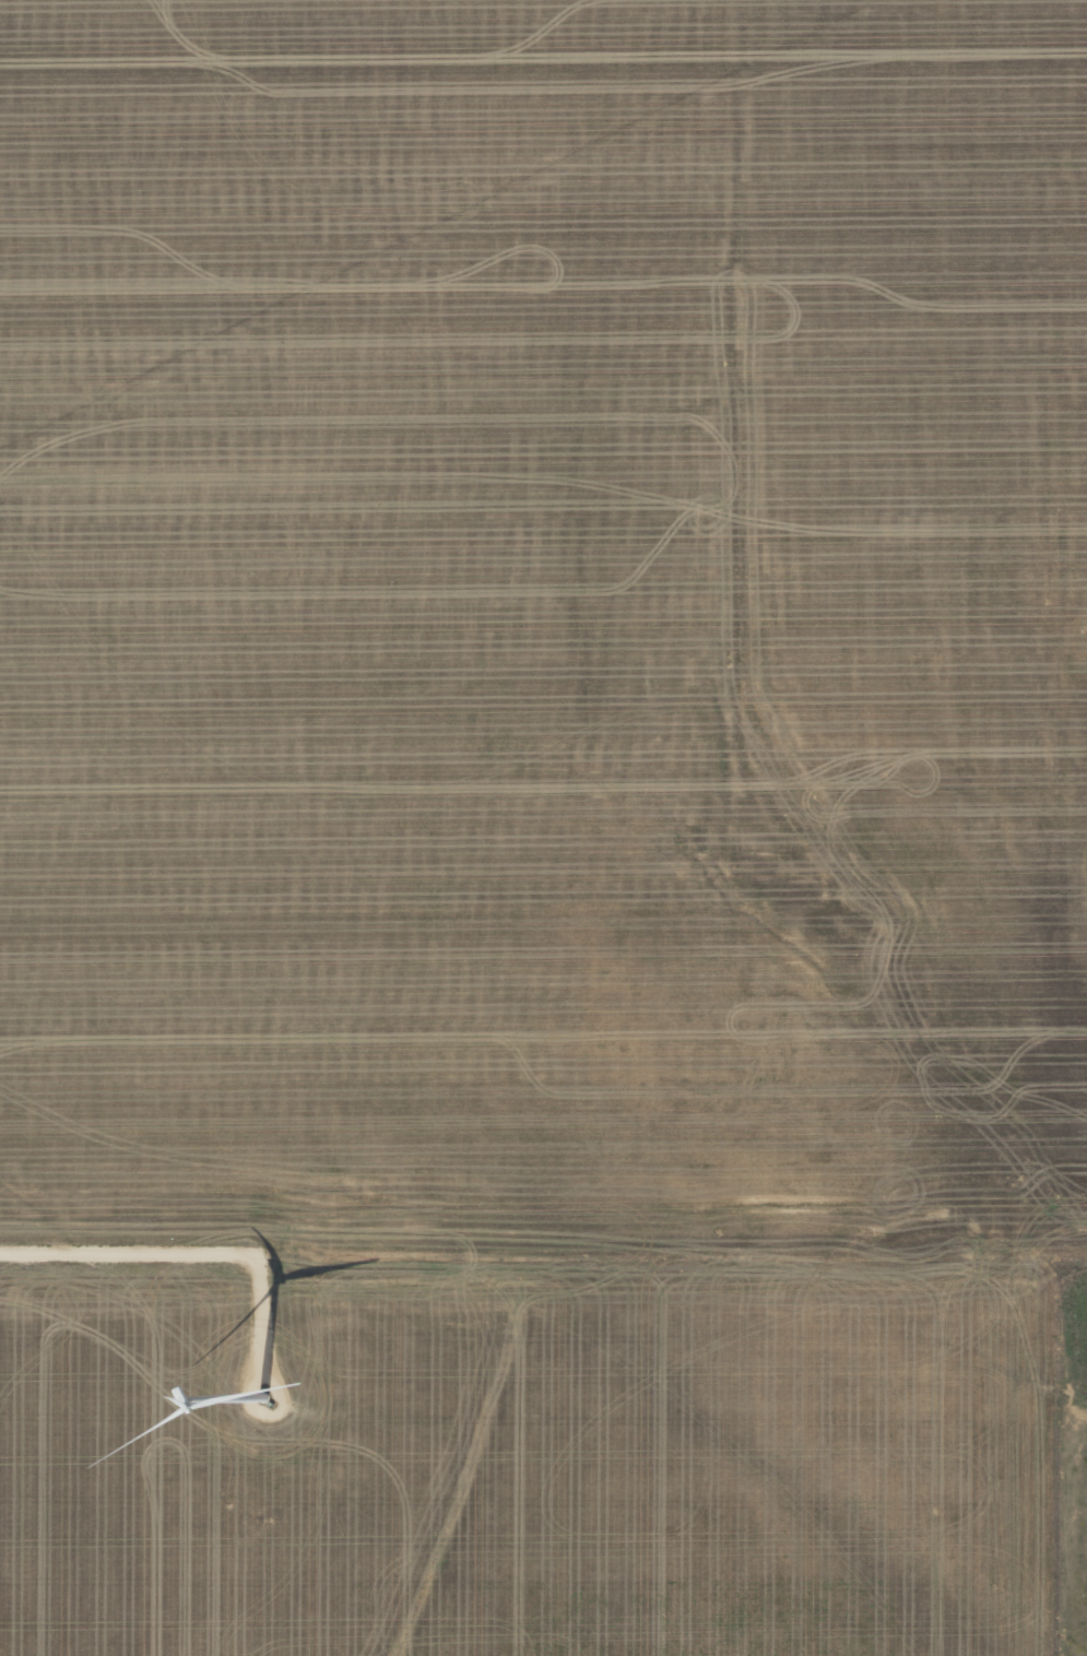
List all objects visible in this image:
wind turbine: (260, 1396)

